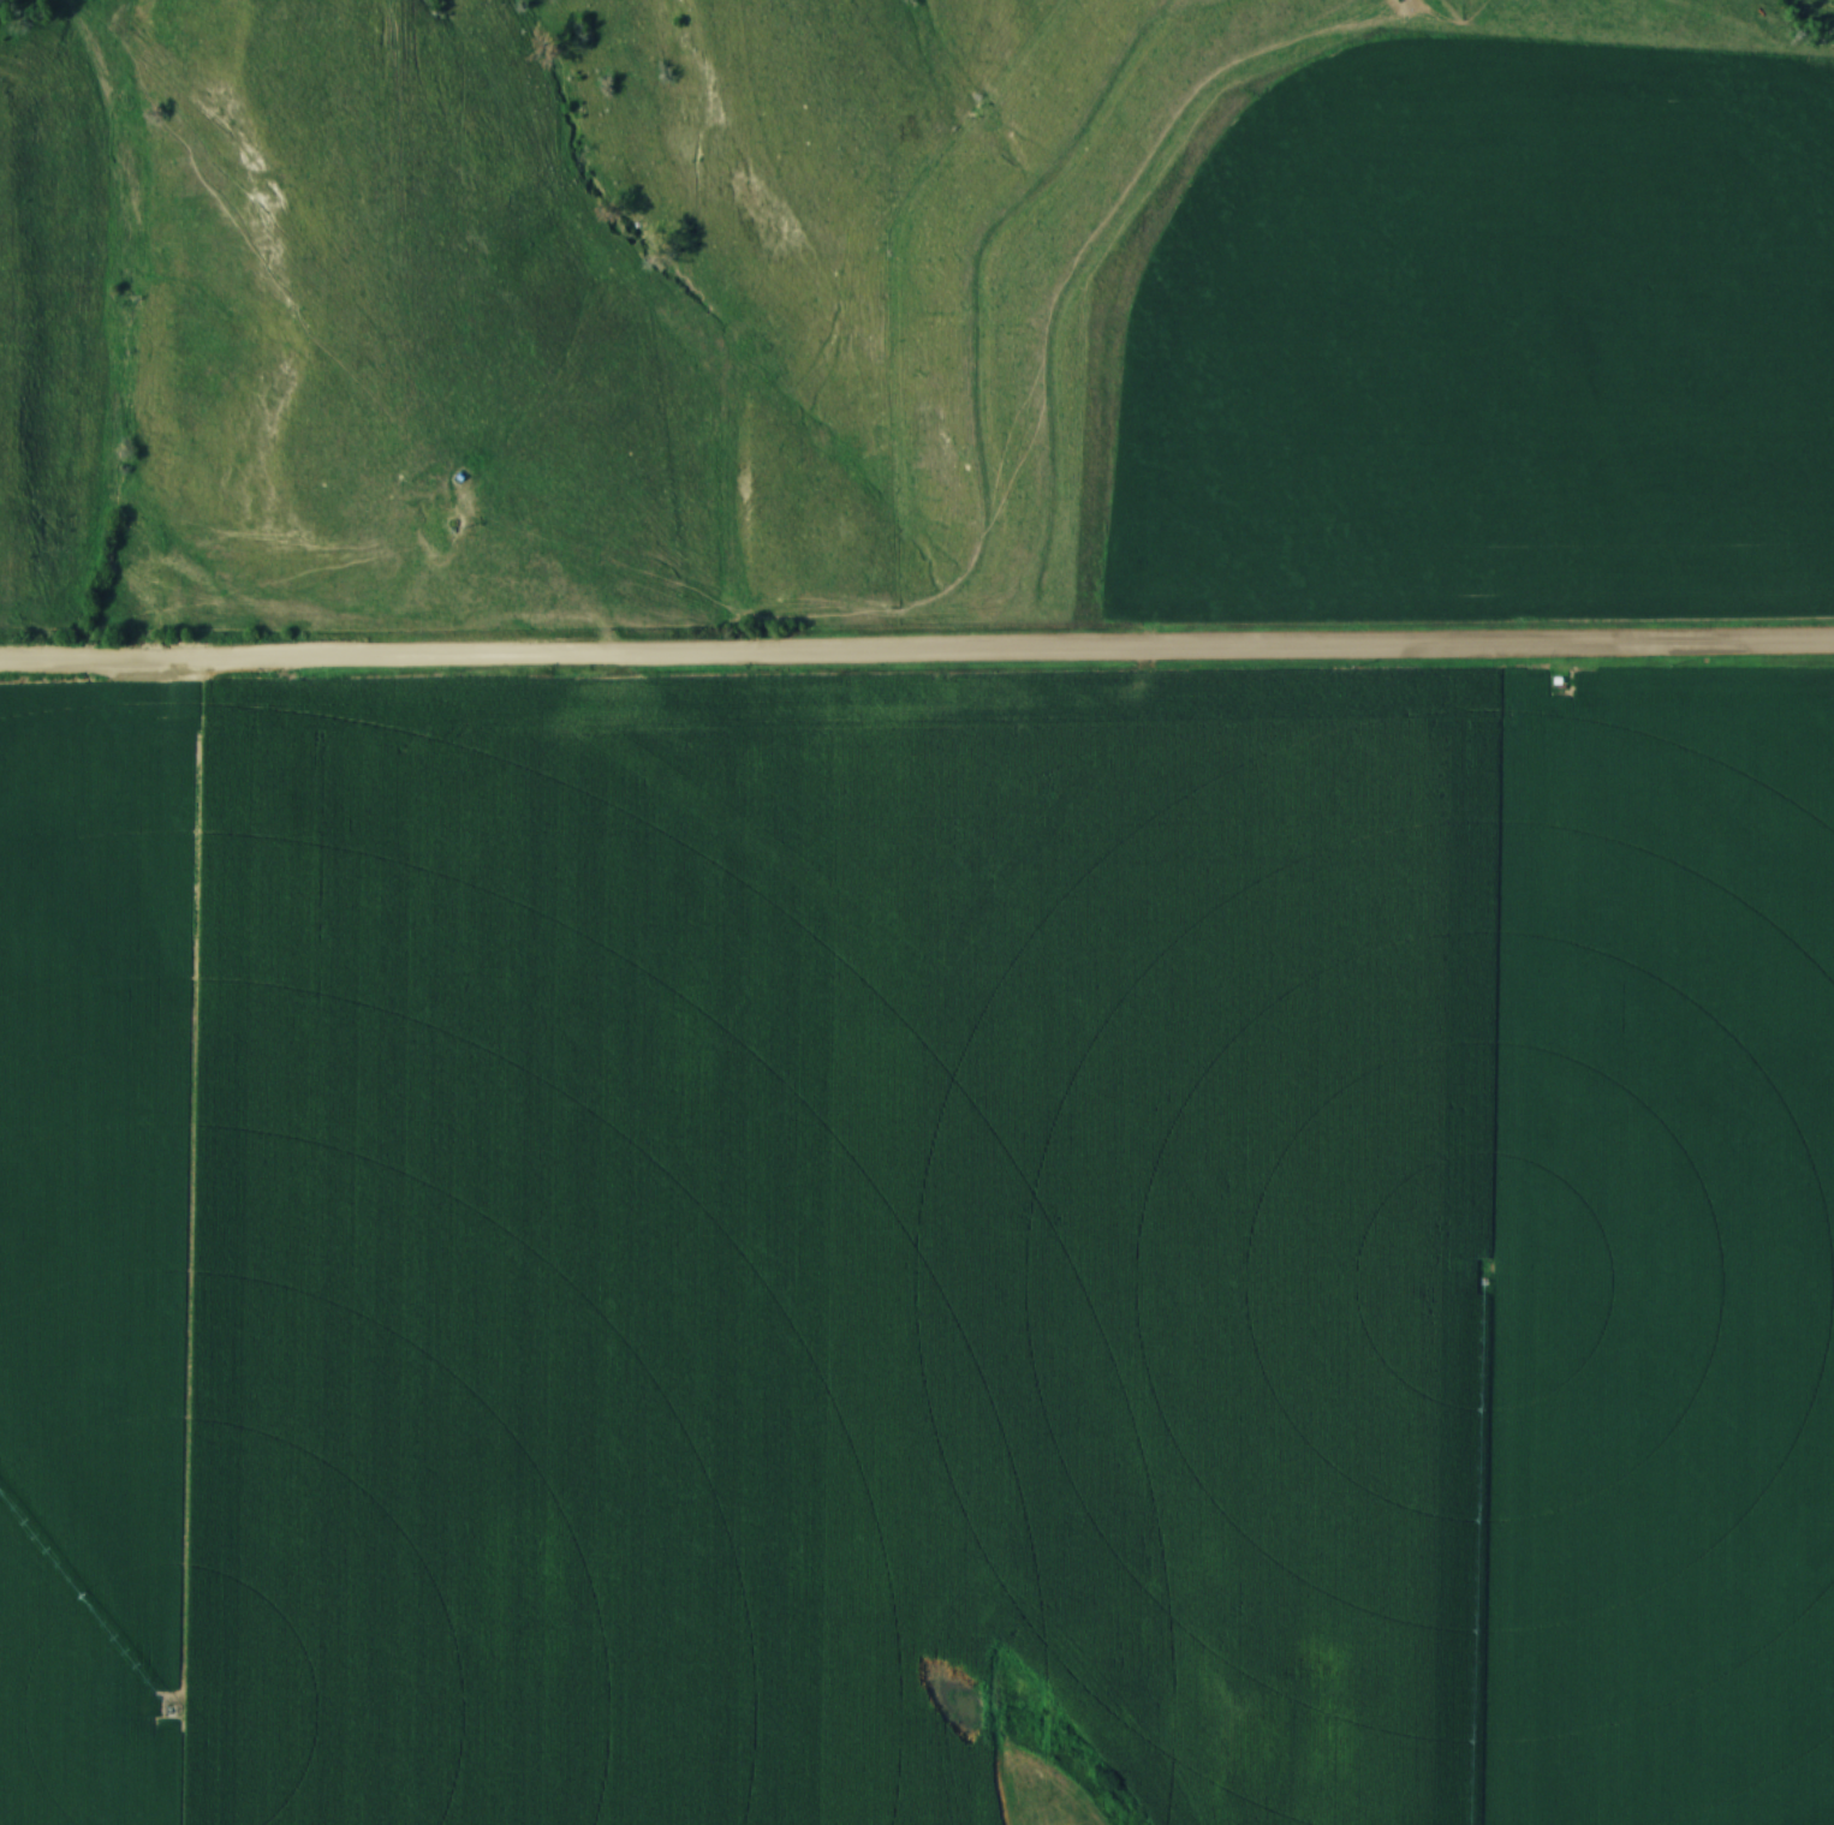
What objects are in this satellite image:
road: (916, 660)

